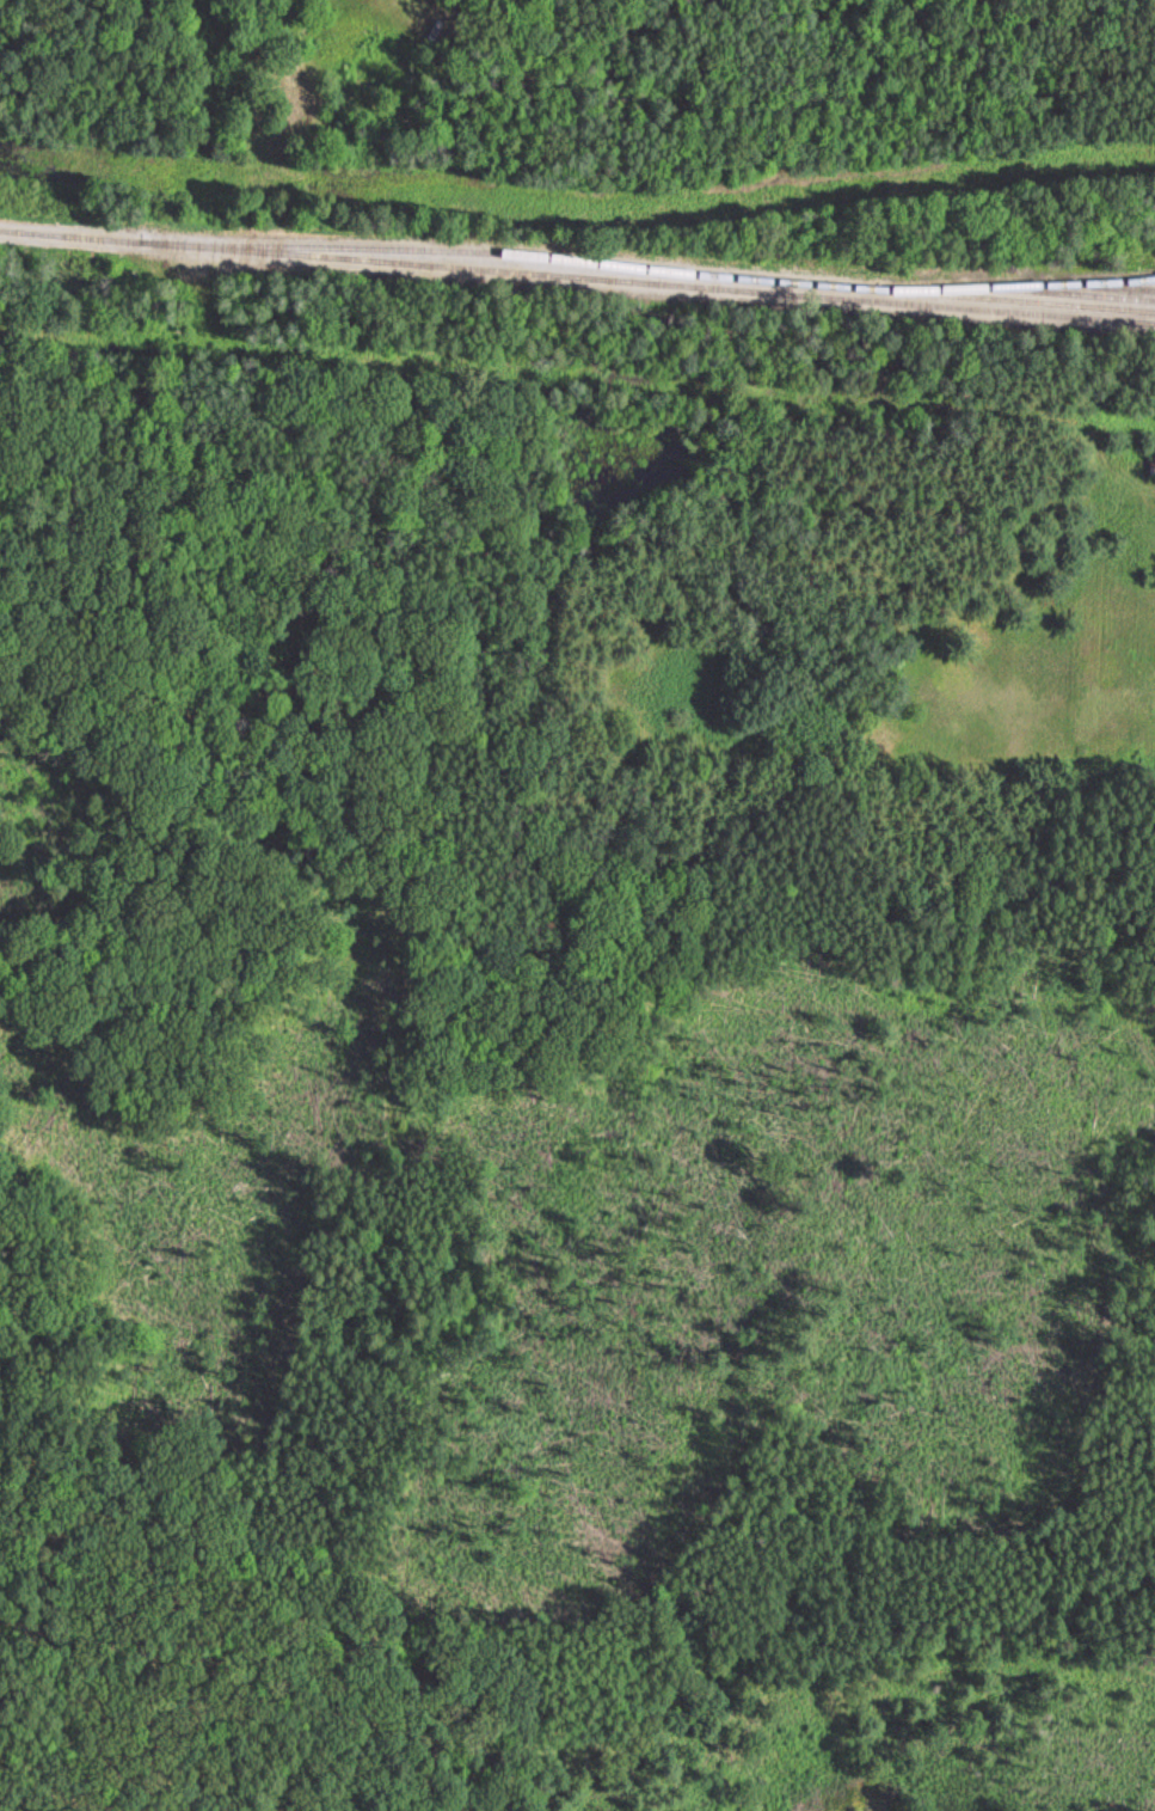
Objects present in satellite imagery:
railway: (557, 255)
railway: (577, 273)
railway: (1036, 285)
railway: (1124, 285)
railway: (1071, 292)
railway: (1036, 300)
road: (577, 377)
building: (1154, 458)
road: (49, 1766)

